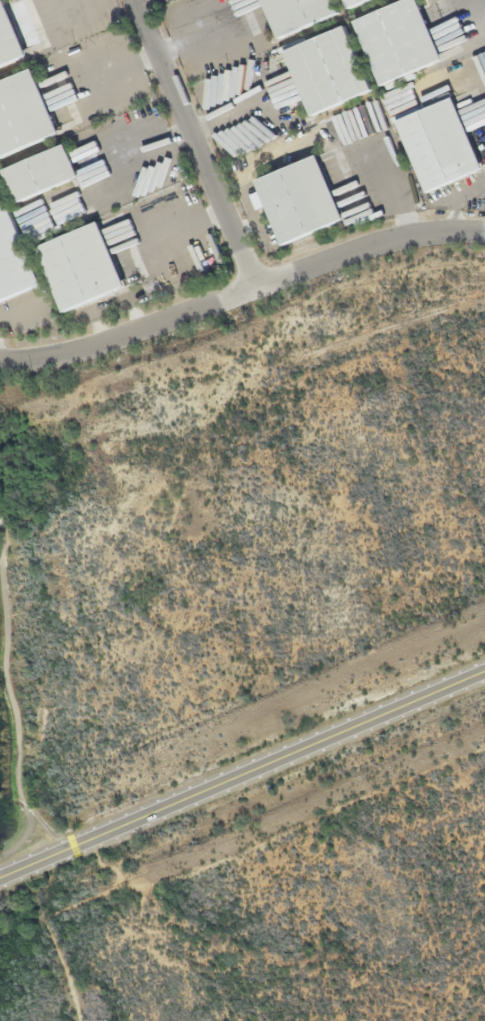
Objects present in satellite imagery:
building: (353, 2)
building: (298, 13)
building: (10, 37)
building: (399, 40)
building: (329, 70)
building: (25, 113)
building: (441, 144)
road: (206, 148)
building: (43, 172)
building: (300, 199)
building: (14, 256)
building: (83, 266)
road: (244, 305)
road: (241, 781)

